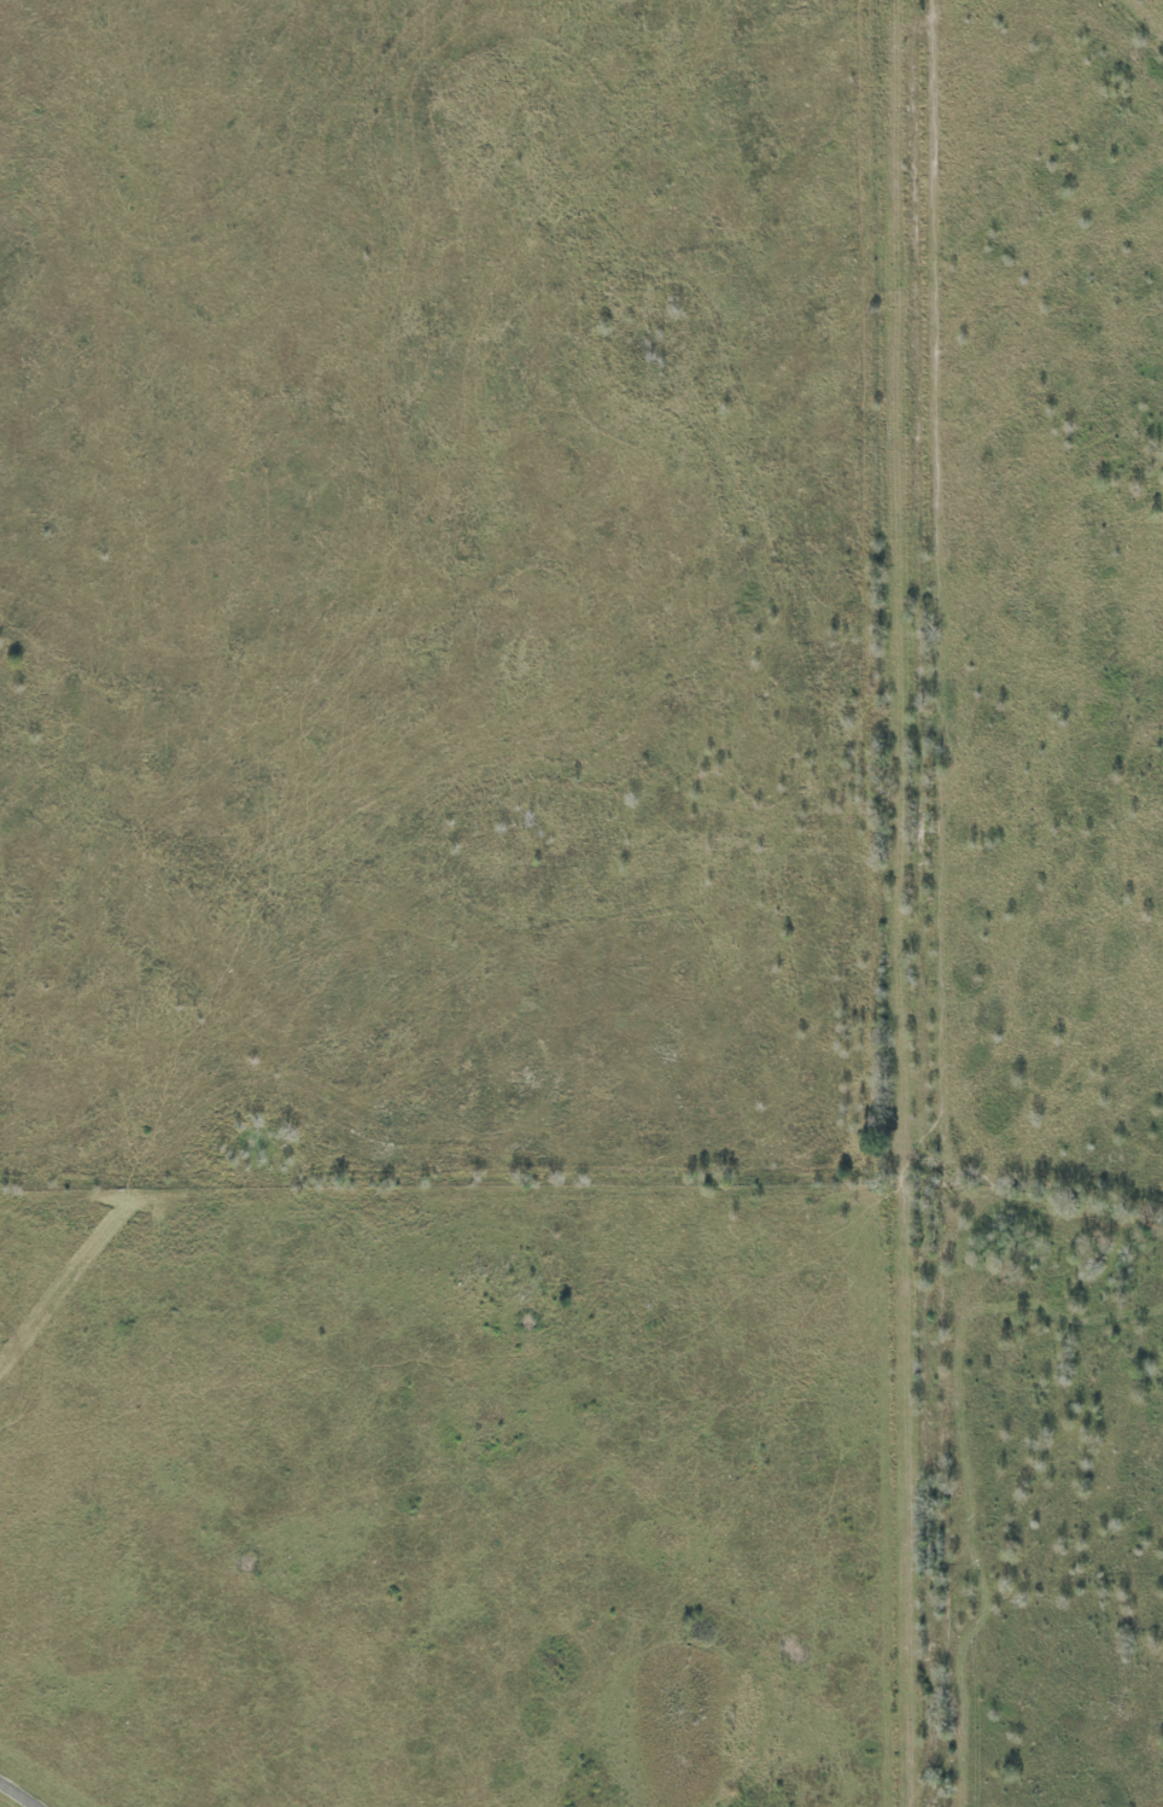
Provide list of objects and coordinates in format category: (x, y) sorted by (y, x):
road: (18, 1794)

